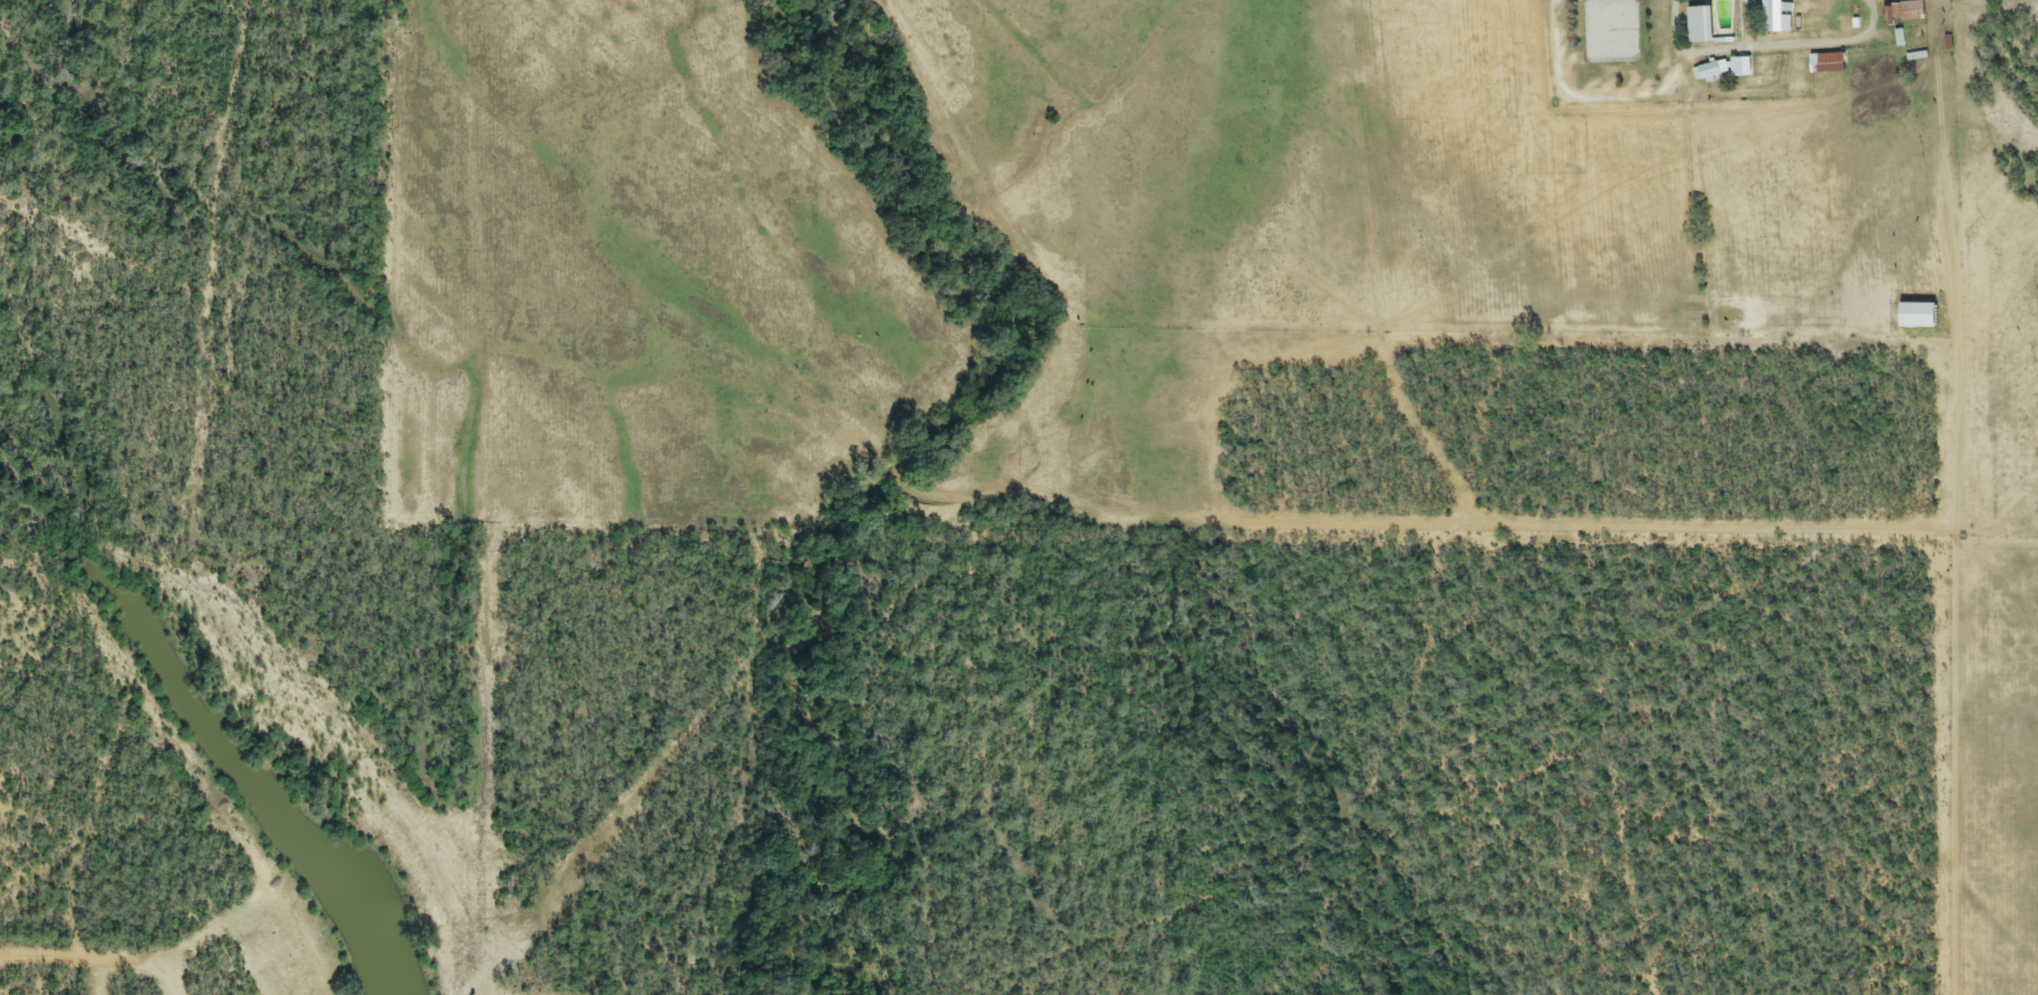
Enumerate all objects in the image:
building: (1905, 12)
building: (1776, 17)
road: (1680, 63)
building: (1827, 64)
building: (1754, 66)
building: (1712, 72)
building: (1924, 327)

